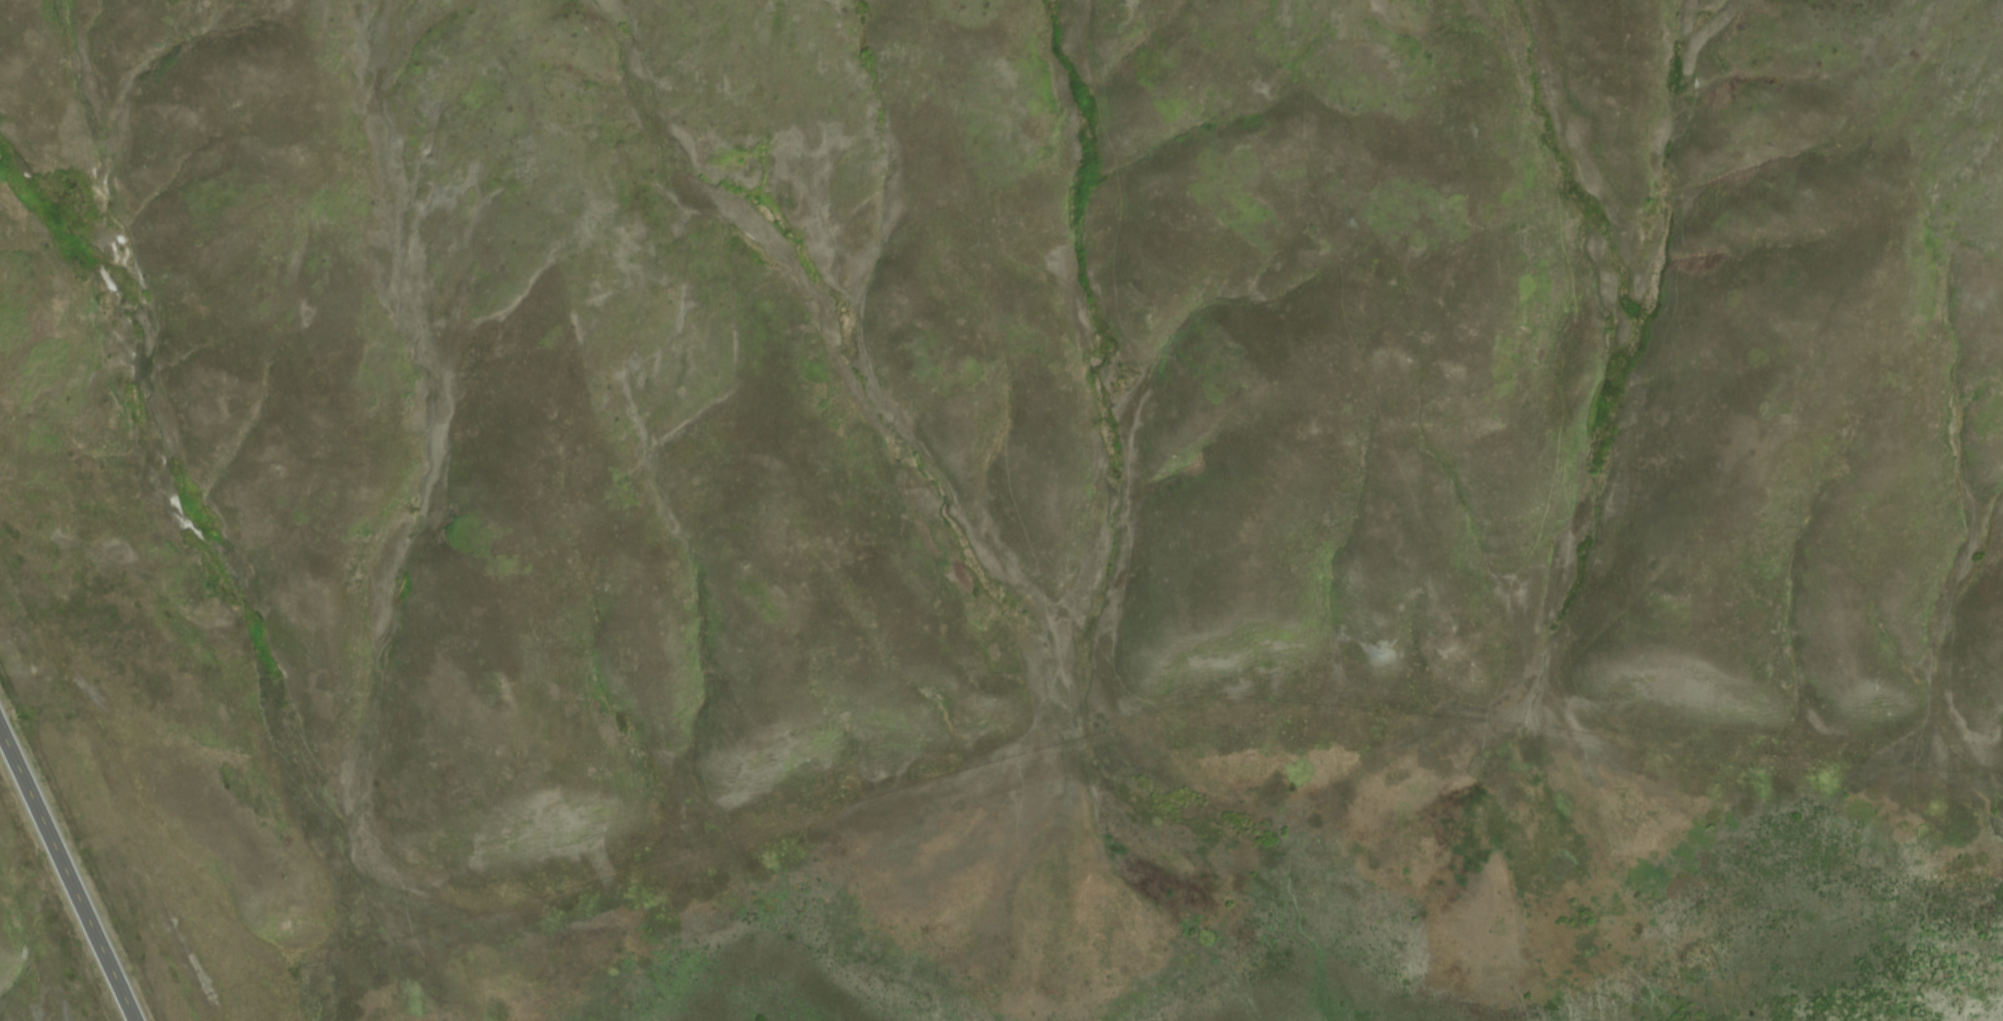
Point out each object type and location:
road: (56, 832)
road: (127, 986)

